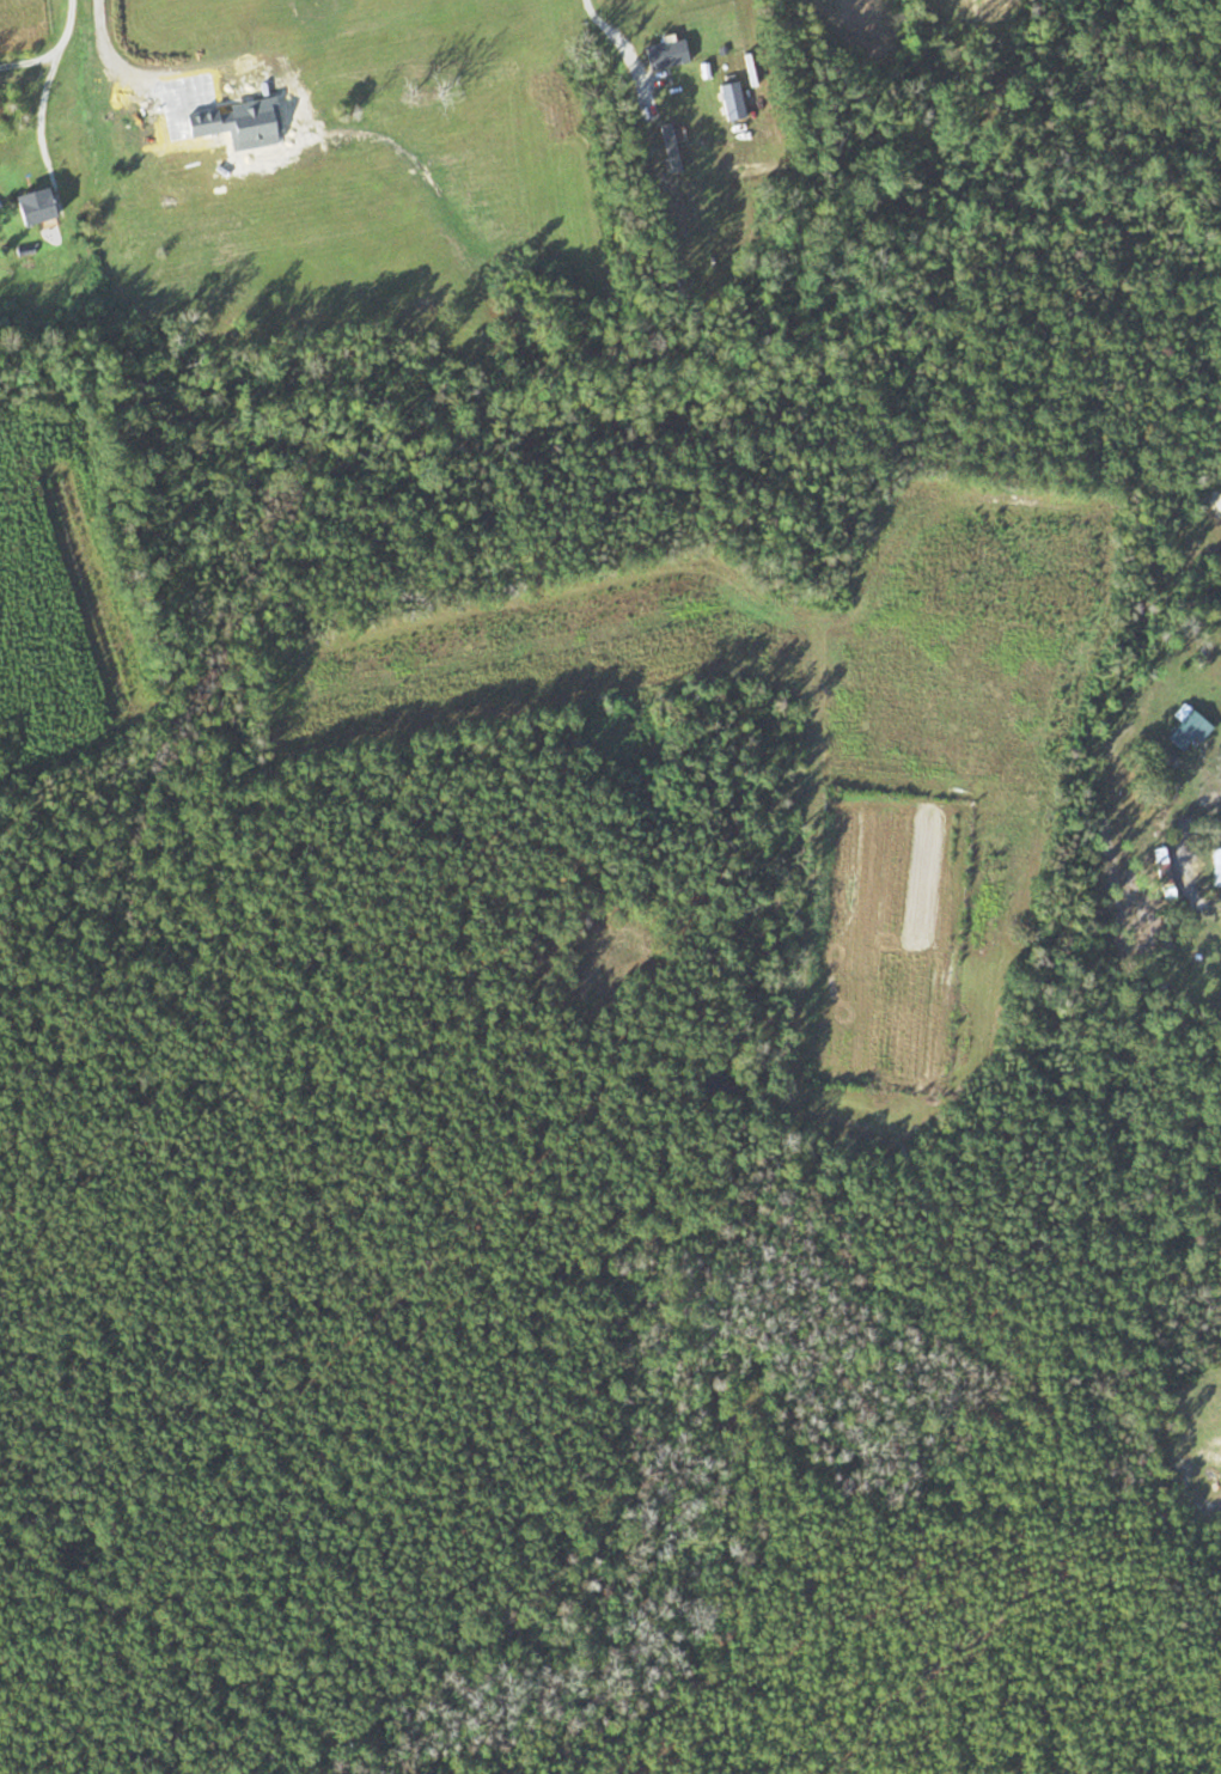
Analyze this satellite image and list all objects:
building: (28, 205)
building: (1186, 726)
road: (1211, 779)
building: (1165, 803)
building: (1215, 866)

